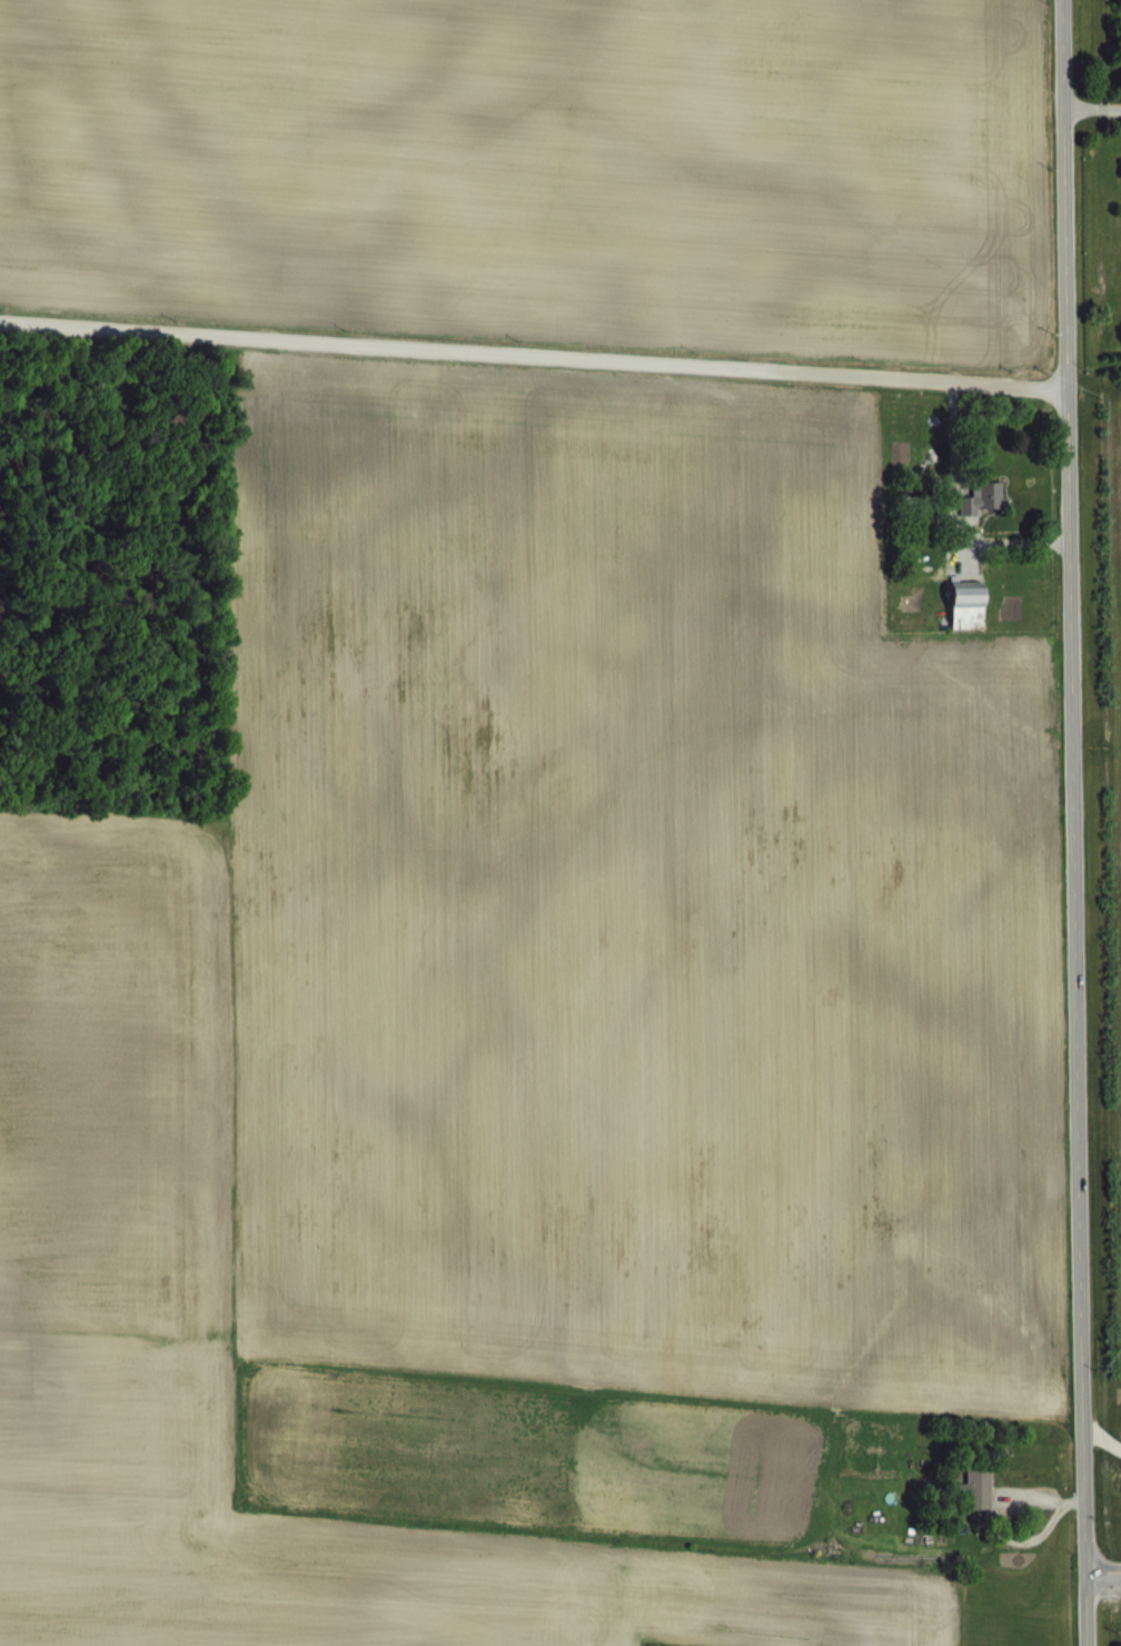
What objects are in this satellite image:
road: (1091, 106)
road: (532, 353)
building: (982, 516)
building: (968, 623)
road: (1072, 823)
building: (975, 1507)
road: (1103, 1567)

